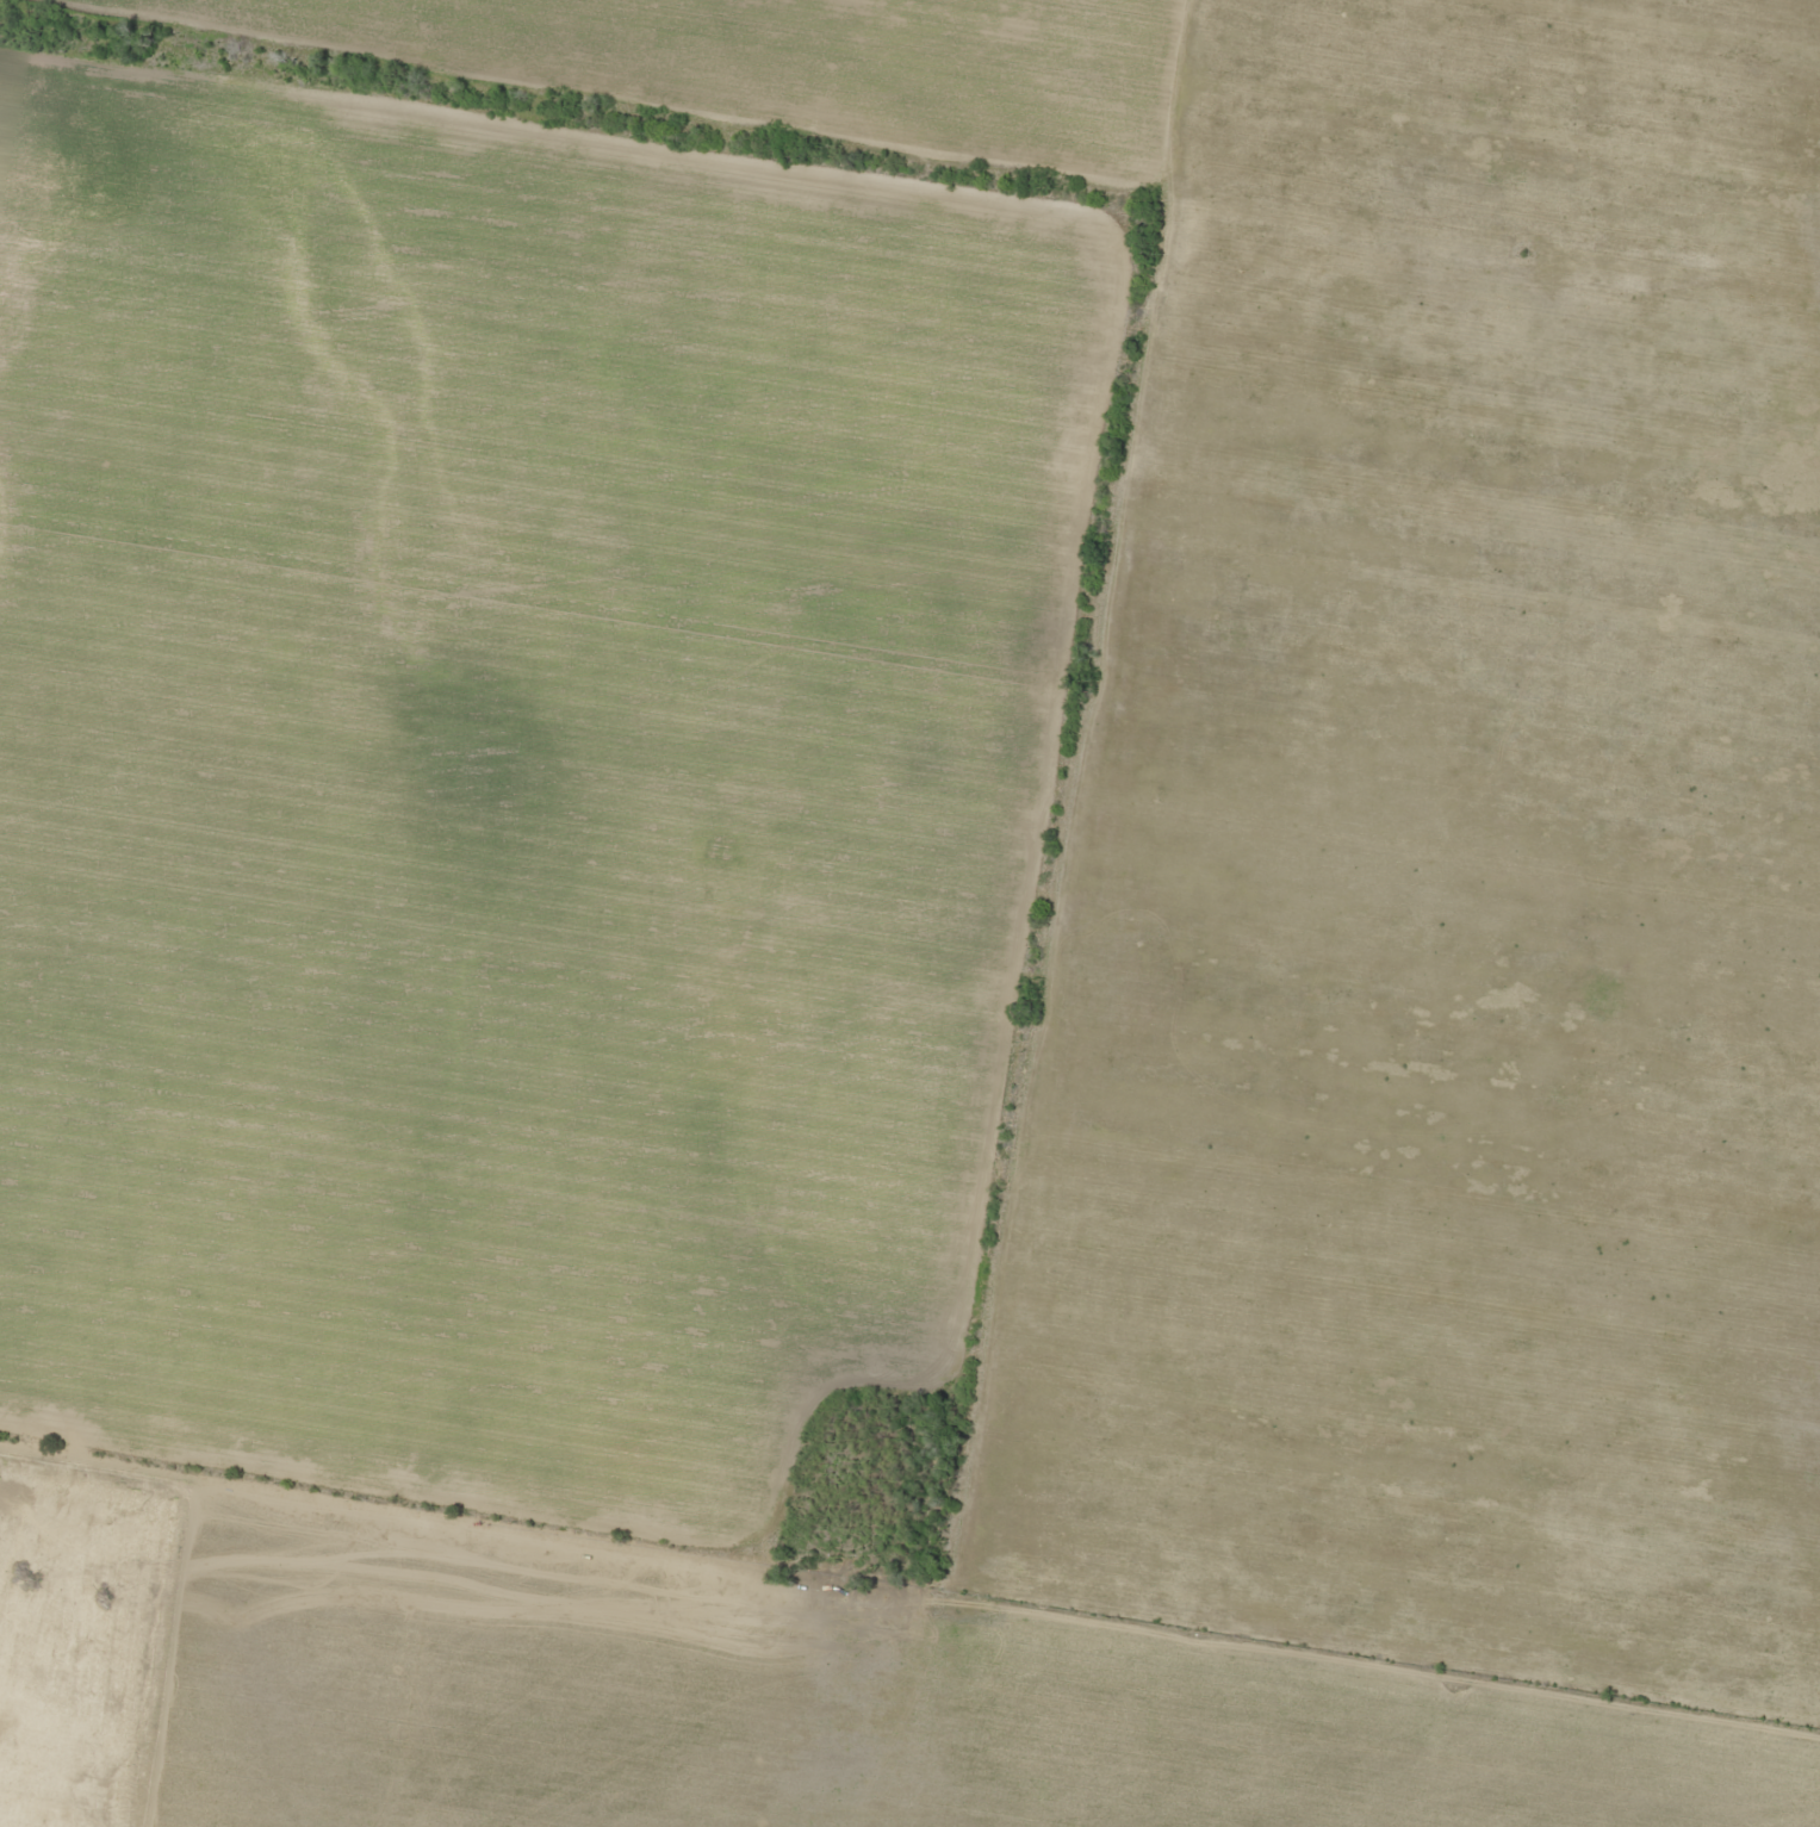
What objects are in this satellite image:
road: (1132, 452)
road: (1800, 1702)

